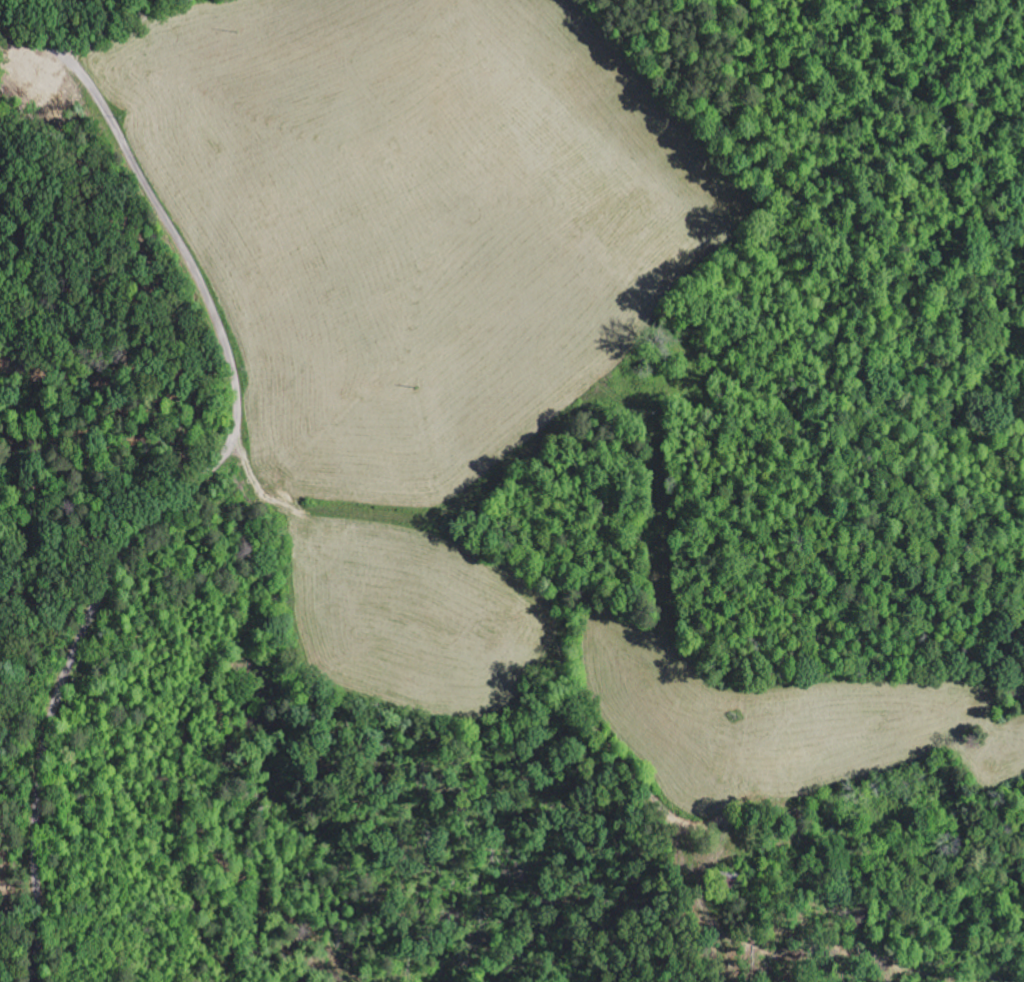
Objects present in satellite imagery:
road: (198, 481)
road: (586, 572)
road: (211, 757)

